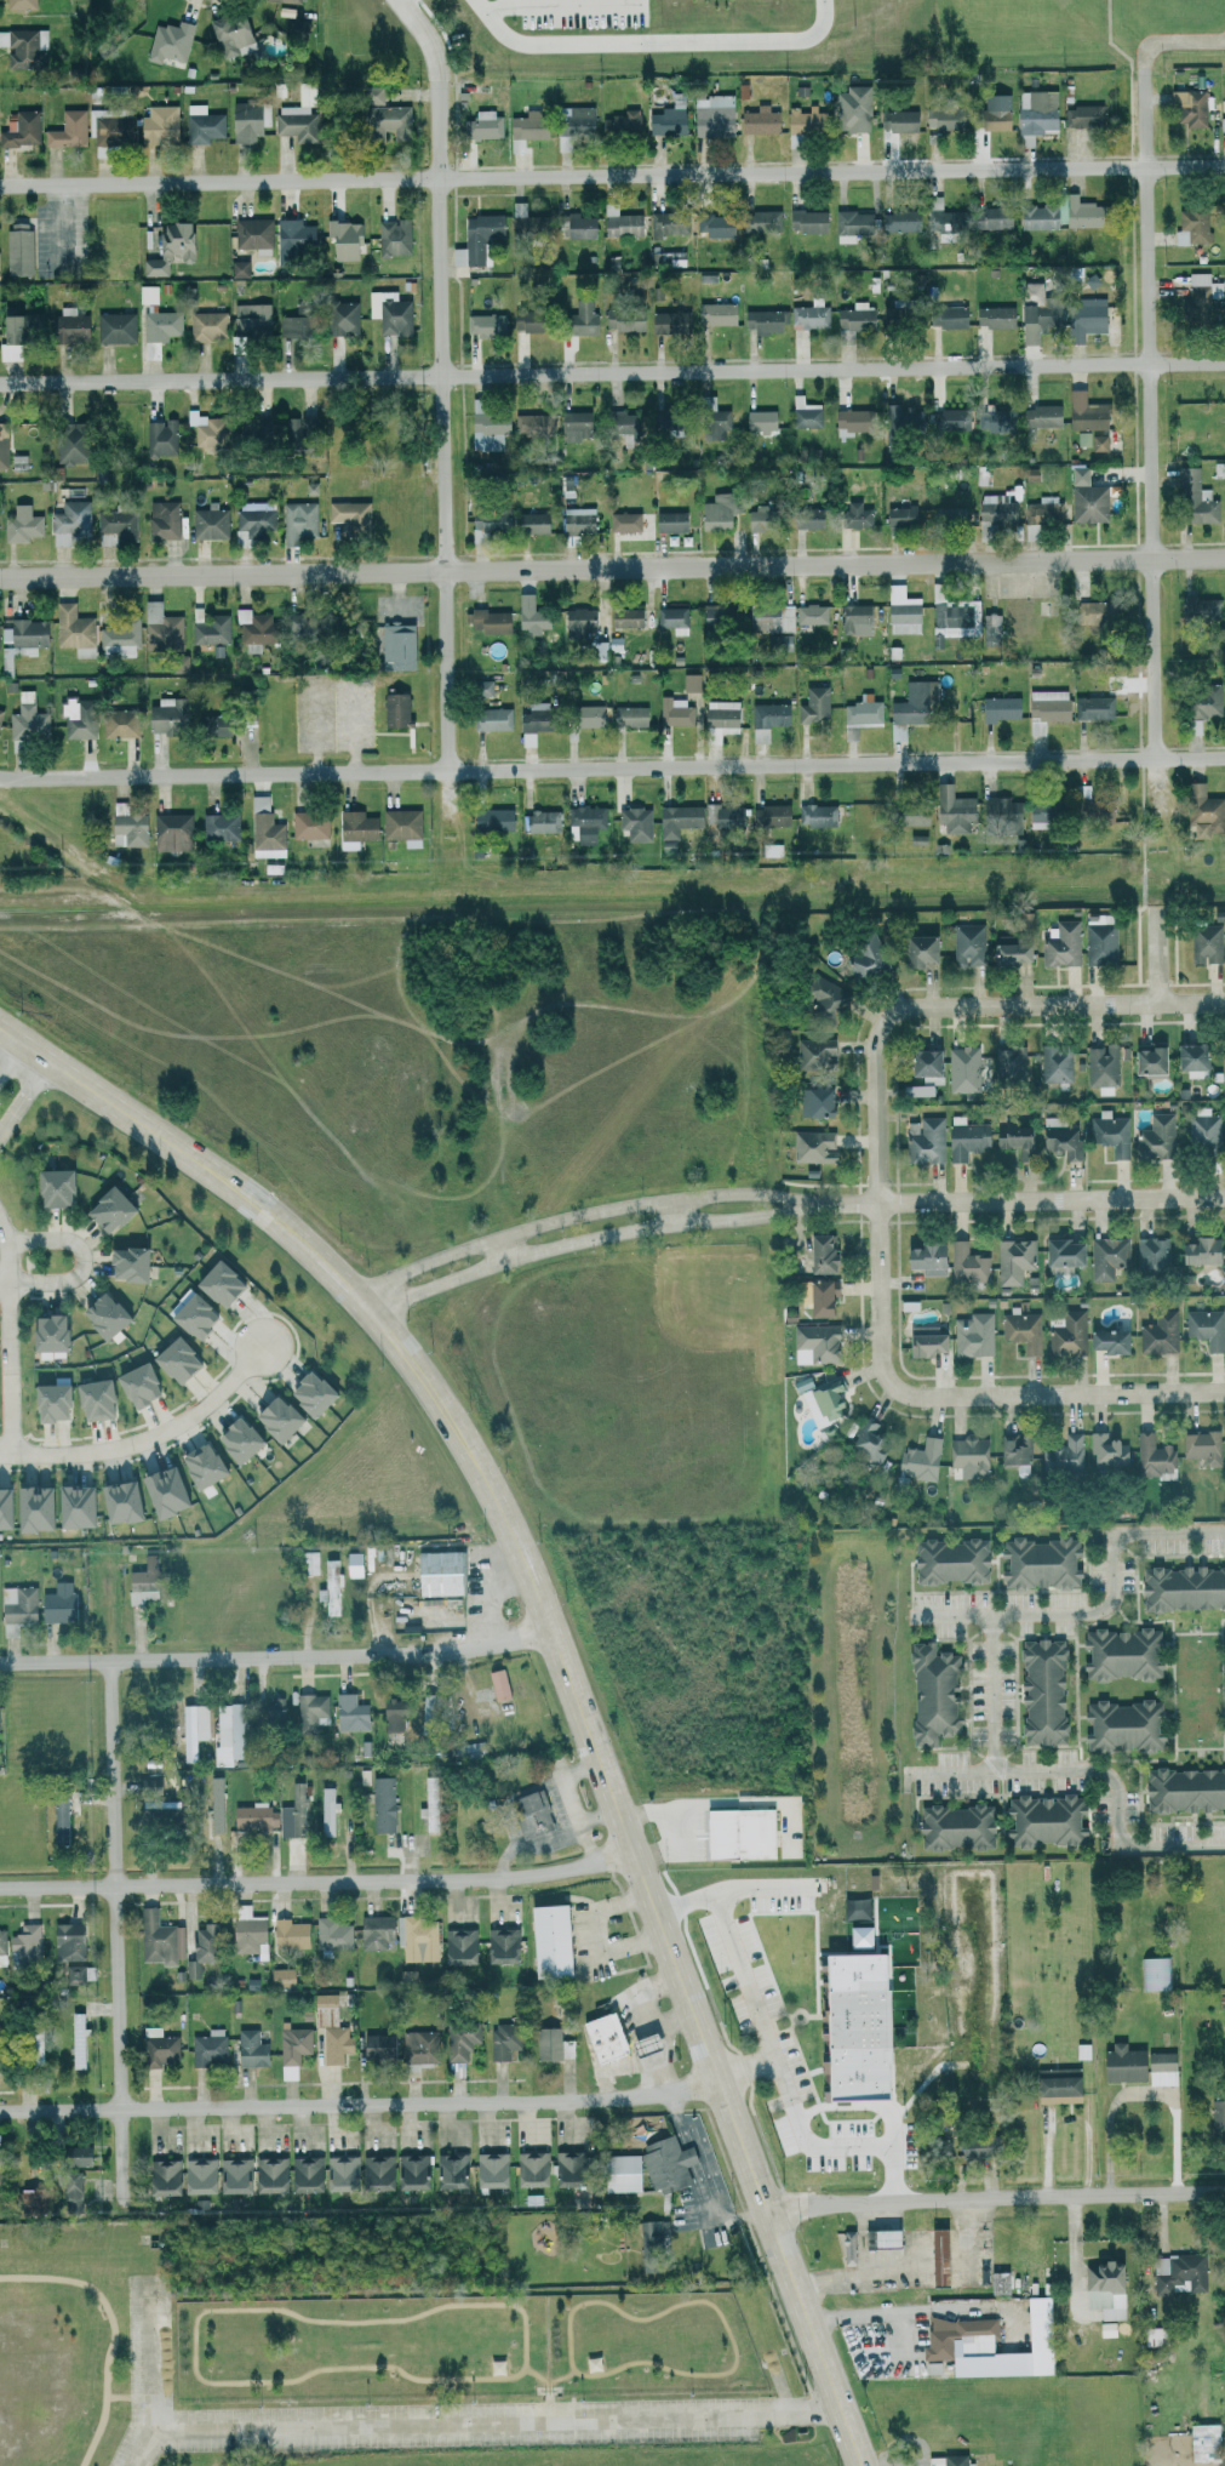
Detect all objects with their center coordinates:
building: (282, 0)
building: (19, 4)
building: (296, 30)
building: (229, 34)
building: (168, 41)
road: (1178, 42)
building: (23, 47)
building: (371, 95)
building: (1224, 102)
building: (1189, 107)
building: (851, 109)
building: (1037, 110)
building: (991, 113)
building: (714, 114)
building: (298, 116)
building: (1082, 116)
building: (668, 119)
building: (939, 119)
building: (759, 120)
building: (385, 121)
building: (798, 121)
building: (247, 122)
building: (158, 124)
building: (201, 124)
building: (571, 124)
building: (623, 124)
building: (526, 125)
building: (893, 125)
building: (482, 126)
building: (19, 127)
building: (109, 127)
building: (67, 130)
road: (612, 175)
building: (1077, 212)
building: (941, 216)
building: (1036, 217)
building: (991, 218)
building: (806, 221)
building: (897, 221)
building: (618, 222)
building: (761, 222)
building: (852, 222)
building: (528, 223)
building: (666, 224)
building: (1224, 224)
building: (716, 227)
building: (1191, 227)
building: (251, 233)
building: (292, 235)
building: (393, 236)
building: (476, 238)
building: (343, 240)
building: (18, 249)
building: (168, 249)
building: (236, 269)
building: (148, 295)
building: (1197, 298)
building: (1224, 308)
building: (389, 313)
building: (714, 313)
building: (945, 316)
building: (992, 316)
building: (340, 318)
building: (1083, 318)
building: (577, 319)
building: (622, 319)
building: (853, 319)
building: (250, 320)
building: (525, 320)
building: (670, 320)
building: (763, 320)
building: (160, 325)
building: (206, 325)
building: (483, 325)
building: (1031, 325)
building: (292, 326)
building: (67, 327)
building: (114, 327)
building: (12, 330)
road: (612, 370)
road: (443, 400)
building: (1083, 412)
road: (1147, 412)
building: (803, 413)
building: (1038, 417)
building: (899, 418)
building: (946, 419)
building: (663, 421)
building: (711, 421)
building: (994, 421)
building: (620, 422)
building: (759, 422)
building: (845, 422)
building: (534, 424)
building: (574, 426)
building: (252, 428)
building: (204, 429)
building: (486, 429)
building: (298, 434)
building: (160, 436)
building: (65, 443)
building: (1097, 443)
building: (2, 445)
building: (1086, 497)
building: (1193, 497)
building: (995, 509)
building: (1042, 509)
building: (348, 512)
building: (715, 512)
building: (854, 514)
building: (946, 514)
building: (898, 515)
building: (253, 516)
building: (806, 516)
building: (577, 519)
building: (754, 519)
building: (298, 520)
building: (486, 520)
building: (623, 520)
building: (208, 521)
building: (668, 521)
building: (116, 523)
building: (531, 523)
building: (19, 524)
building: (68, 524)
road: (612, 565)
building: (1198, 607)
building: (900, 610)
building: (1089, 612)
building: (530, 613)
building: (809, 613)
building: (716, 615)
building: (955, 616)
building: (624, 617)
building: (672, 618)
building: (769, 618)
building: (854, 618)
building: (486, 620)
building: (576, 621)
building: (990, 626)
building: (210, 628)
building: (252, 628)
building: (73, 629)
building: (21, 635)
building: (119, 638)
building: (782, 643)
building: (393, 646)
building: (603, 649)
building: (688, 681)
building: (480, 687)
building: (1202, 701)
building: (812, 704)
building: (1044, 707)
building: (1092, 707)
building: (910, 708)
building: (997, 708)
building: (394, 709)
building: (674, 709)
building: (860, 709)
building: (0, 712)
building: (164, 714)
building: (585, 715)
building: (629, 715)
building: (76, 717)
building: (534, 717)
building: (491, 718)
building: (27, 719)
building: (720, 719)
building: (765, 719)
building: (119, 723)
building: (211, 725)
road: (1147, 765)
road: (612, 767)
road: (1152, 801)
building: (951, 809)
building: (1201, 810)
building: (1046, 811)
building: (998, 812)
building: (910, 814)
building: (722, 815)
building: (772, 815)
building: (812, 815)
road: (1143, 815)
building: (491, 818)
building: (676, 818)
building: (539, 821)
building: (584, 822)
building: (634, 822)
building: (308, 823)
building: (399, 823)
building: (218, 826)
building: (354, 828)
building: (127, 829)
building: (264, 829)
building: (170, 830)
building: (771, 849)
road: (1144, 887)
building: (967, 943)
building: (1060, 943)
building: (1098, 943)
building: (1204, 943)
road: (1138, 948)
building: (916, 949)
building: (865, 953)
building: (1007, 953)
road: (1155, 953)
building: (824, 994)
road: (961, 1001)
building: (814, 1051)
building: (1224, 1052)
road: (10, 1056)
building: (1187, 1057)
building: (1146, 1060)
building: (921, 1062)
building: (1008, 1062)
building: (1054, 1062)
building: (962, 1067)
building: (914, 1090)
road: (25, 1100)
building: (813, 1101)
building: (1203, 1128)
building: (1110, 1132)
road: (0, 1134)
building: (1012, 1135)
building: (1155, 1136)
building: (964, 1137)
building: (923, 1140)
building: (1060, 1140)
building: (809, 1144)
building: (50, 1187)
road: (1013, 1198)
building: (104, 1209)
road: (675, 1212)
road: (573, 1217)
road: (583, 1239)
building: (1198, 1250)
road: (502, 1251)
building: (818, 1254)
building: (1150, 1254)
building: (1059, 1255)
building: (1106, 1256)
road: (82, 1257)
building: (925, 1257)
building: (1012, 1260)
building: (124, 1263)
building: (966, 1263)
road: (2, 1281)
building: (216, 1283)
building: (818, 1296)
building: (101, 1314)
building: (189, 1315)
building: (1203, 1326)
building: (1021, 1331)
building: (1157, 1332)
building: (1066, 1334)
building: (972, 1335)
road: (6, 1340)
building: (922, 1340)
building: (1106, 1340)
building: (815, 1341)
building: (171, 1359)
building: (133, 1385)
road: (966, 1388)
building: (307, 1393)
building: (90, 1399)
building: (822, 1400)
building: (47, 1402)
building: (273, 1417)
road: (148, 1437)
building: (233, 1439)
building: (865, 1440)
building: (1201, 1446)
building: (1013, 1450)
building: (1105, 1451)
building: (1064, 1452)
building: (1151, 1455)
building: (968, 1456)
building: (917, 1459)
building: (198, 1465)
building: (160, 1491)
building: (115, 1501)
building: (70, 1506)
building: (2, 1508)
building: (29, 1508)
building: (949, 1560)
building: (308, 1562)
building: (1037, 1563)
building: (351, 1564)
building: (436, 1572)
road: (1115, 1574)
building: (141, 1581)
building: (330, 1587)
building: (1181, 1587)
building: (56, 1603)
building: (16, 1606)
building: (1224, 1627)
road: (563, 1654)
building: (1120, 1654)
road: (279, 1657)
road: (992, 1662)
building: (497, 1684)
building: (1040, 1691)
building: (931, 1692)
building: (273, 1711)
building: (309, 1711)
building: (390, 1711)
building: (349, 1713)
building: (1121, 1726)
building: (191, 1729)
building: (225, 1735)
building: (469, 1751)
road: (1101, 1771)
building: (150, 1786)
building: (1184, 1789)
building: (216, 1804)
building: (382, 1804)
building: (428, 1804)
building: (327, 1811)
building: (292, 1813)
building: (530, 1814)
building: (58, 1815)
building: (252, 1816)
building: (1042, 1820)
building: (954, 1827)
building: (737, 1833)
road: (317, 1882)
road: (118, 1931)
building: (246, 1931)
building: (373, 1931)
building: (414, 1931)
building: (287, 1934)
building: (331, 1934)
building: (858, 1936)
building: (158, 1940)
building: (65, 1941)
building: (546, 1941)
building: (1, 1942)
building: (23, 1945)
building: (499, 1945)
building: (456, 1946)
building: (199, 1951)
building: (1155, 1973)
building: (73, 1974)
building: (280, 1977)
building: (852, 2026)
building: (330, 2030)
building: (602, 2038)
building: (459, 2039)
building: (76, 2040)
building: (503, 2042)
building: (34, 2044)
building: (292, 2044)
building: (642, 2044)
building: (550, 2045)
building: (156, 2047)
building: (207, 2047)
building: (374, 2047)
building: (248, 2049)
road: (774, 2057)
building: (1121, 2063)
building: (1160, 2068)
road: (745, 2073)
building: (1055, 2085)
road: (1141, 2095)
road: (359, 2100)
road: (674, 2110)
building: (1217, 2118)
building: (971, 2148)
road: (689, 2152)
building: (73, 2156)
building: (647, 2168)
building: (528, 2169)
building: (566, 2169)
building: (488, 2170)
building: (410, 2171)
building: (448, 2171)
building: (338, 2173)
building: (374, 2173)
building: (303, 2174)
building: (267, 2175)
building: (196, 2176)
building: (231, 2176)
building: (160, 2177)
road: (995, 2202)
road: (726, 2210)
building: (652, 2234)
building: (881, 2238)
building: (935, 2257)
building: (1177, 2273)
road: (150, 2278)
building: (998, 2282)
building: (1103, 2289)
road: (925, 2317)
building: (1224, 2318)
road: (113, 2329)
building: (1106, 2329)
building: (958, 2337)
park: (365, 2357)
road: (525, 2362)
road: (734, 2364)
road: (894, 2373)
road: (538, 2374)
road: (560, 2375)
road: (538, 2392)
road: (560, 2392)
road: (498, 2419)
building: (1203, 2441)
building: (945, 2460)

